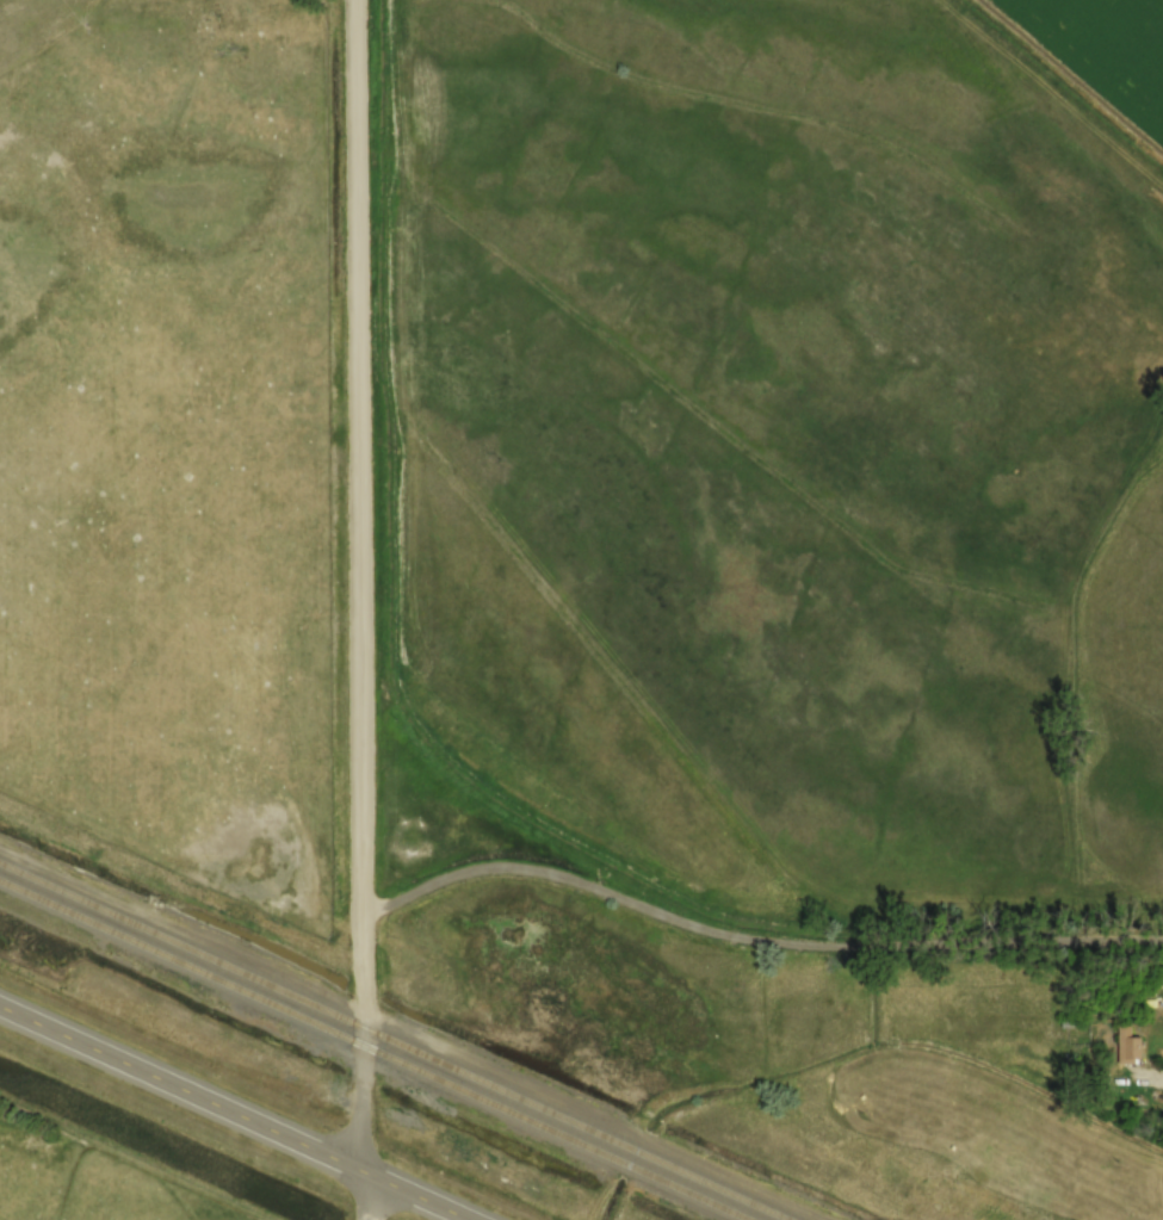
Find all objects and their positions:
road: (358, 609)
road: (753, 940)
railway: (396, 1040)
building: (1127, 1046)
railway: (377, 1049)
road: (235, 1113)

